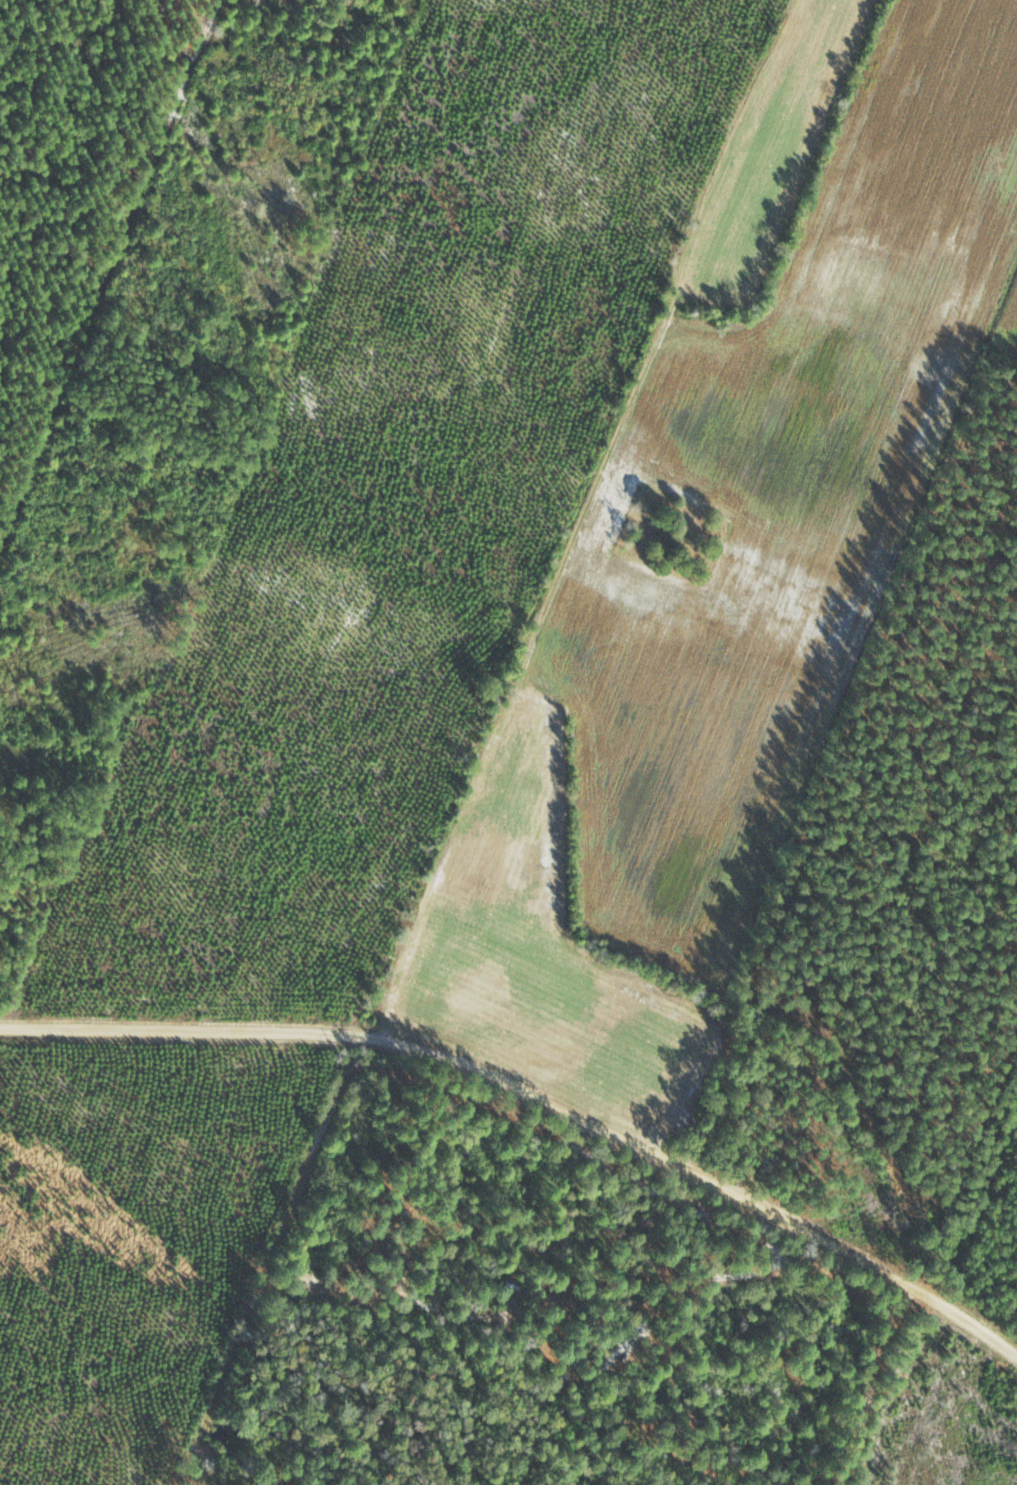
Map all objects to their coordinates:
road: (531, 1054)

